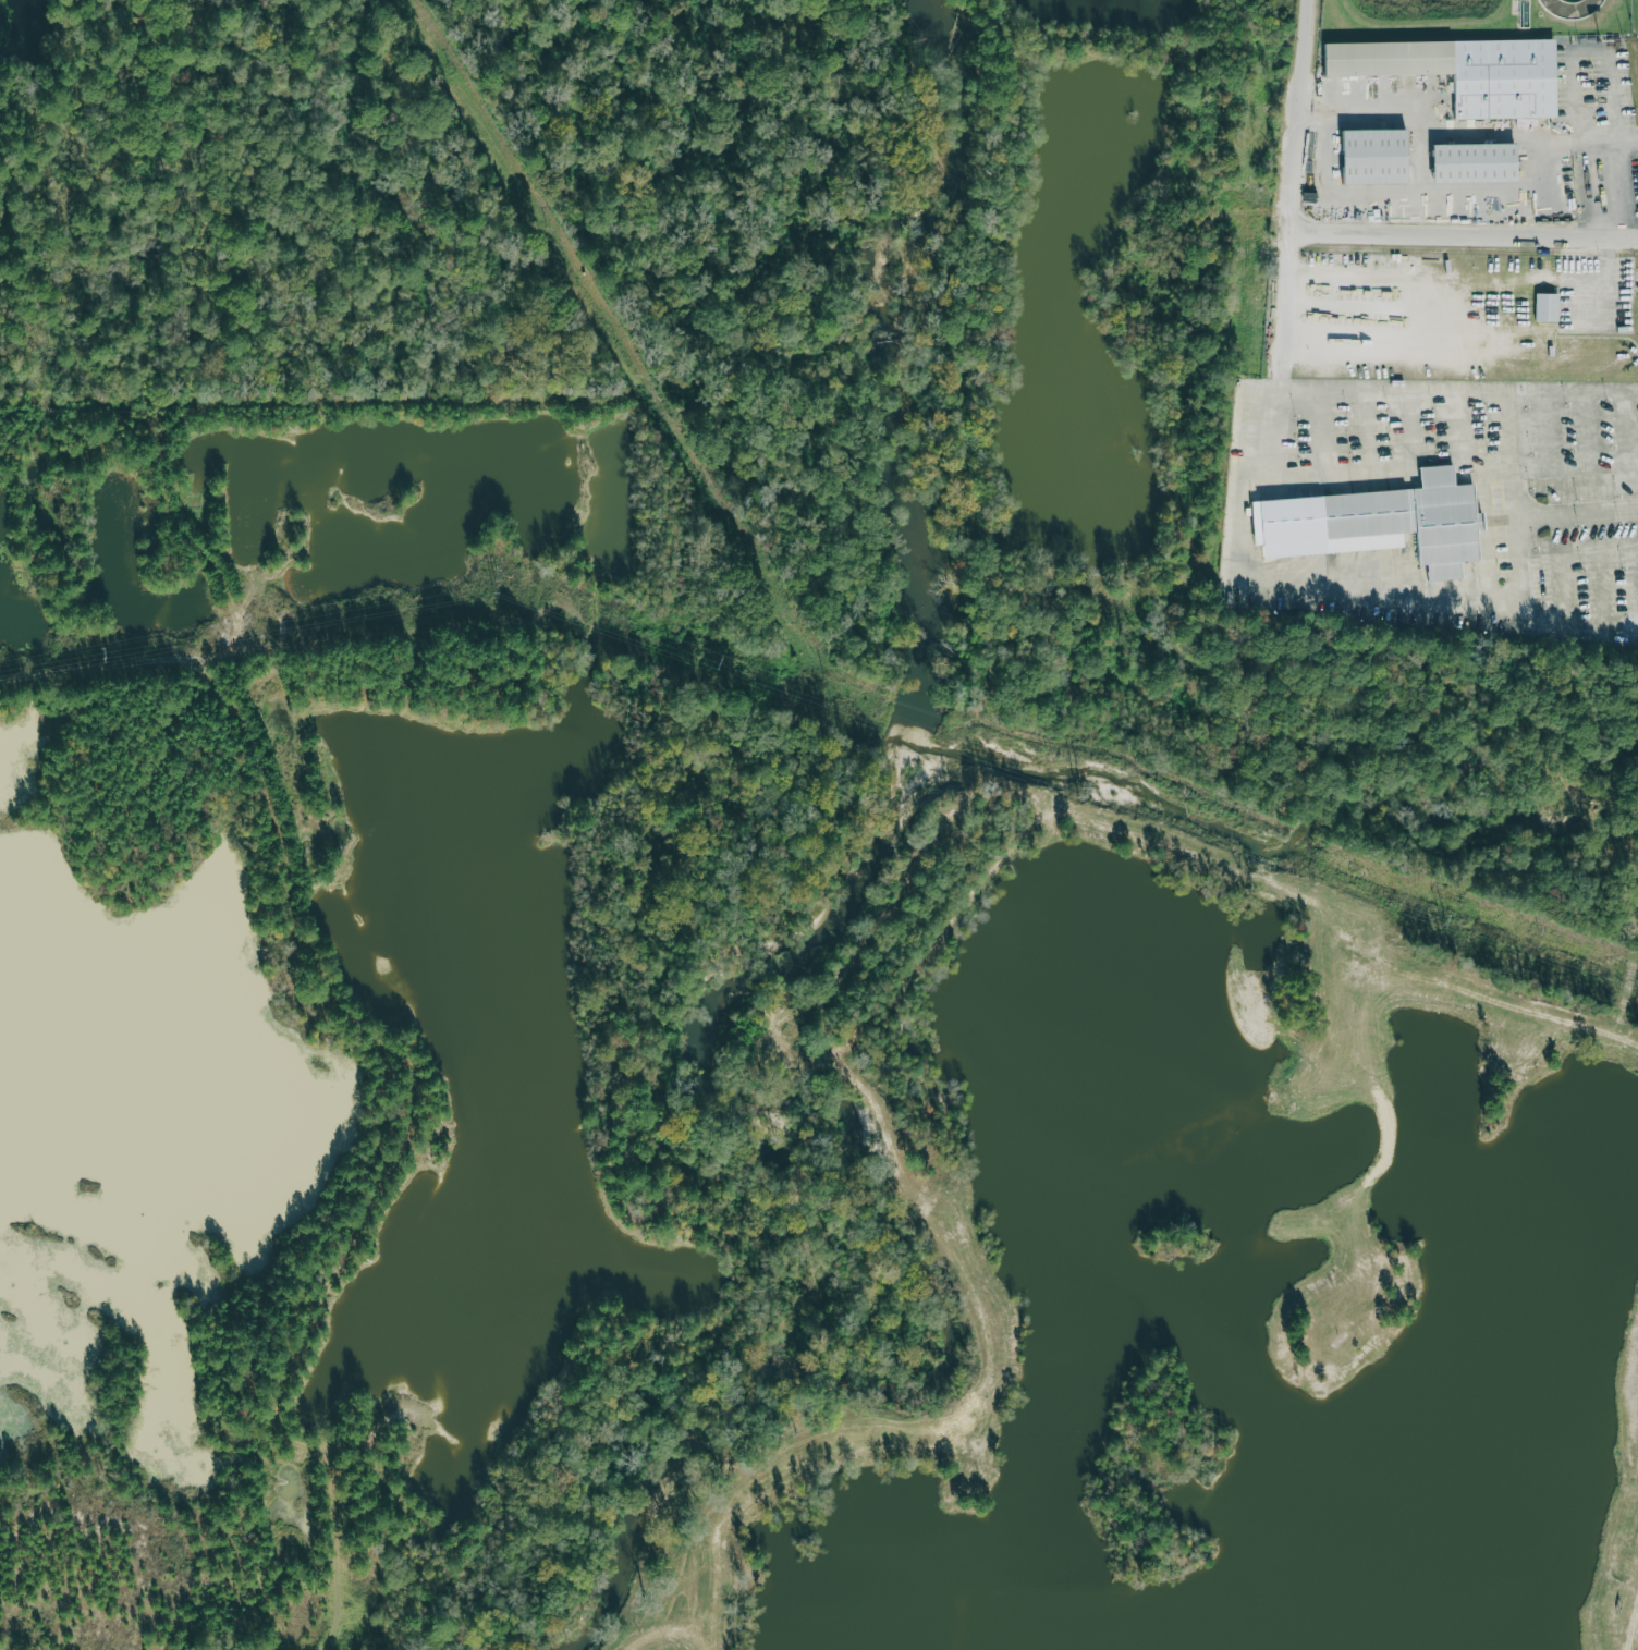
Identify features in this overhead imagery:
wastewater plant: (1472, 19)
building: (1476, 86)
road: (1440, 147)
building: (1386, 172)
building: (1489, 179)
road: (1468, 244)
building: (1550, 307)
road: (1261, 479)
road: (1579, 514)
building: (1398, 535)
power tower: (497, 582)
power tower: (105, 653)
power tower: (720, 667)
power tower: (1081, 794)
river: (814, 889)
power tower: (1444, 921)

